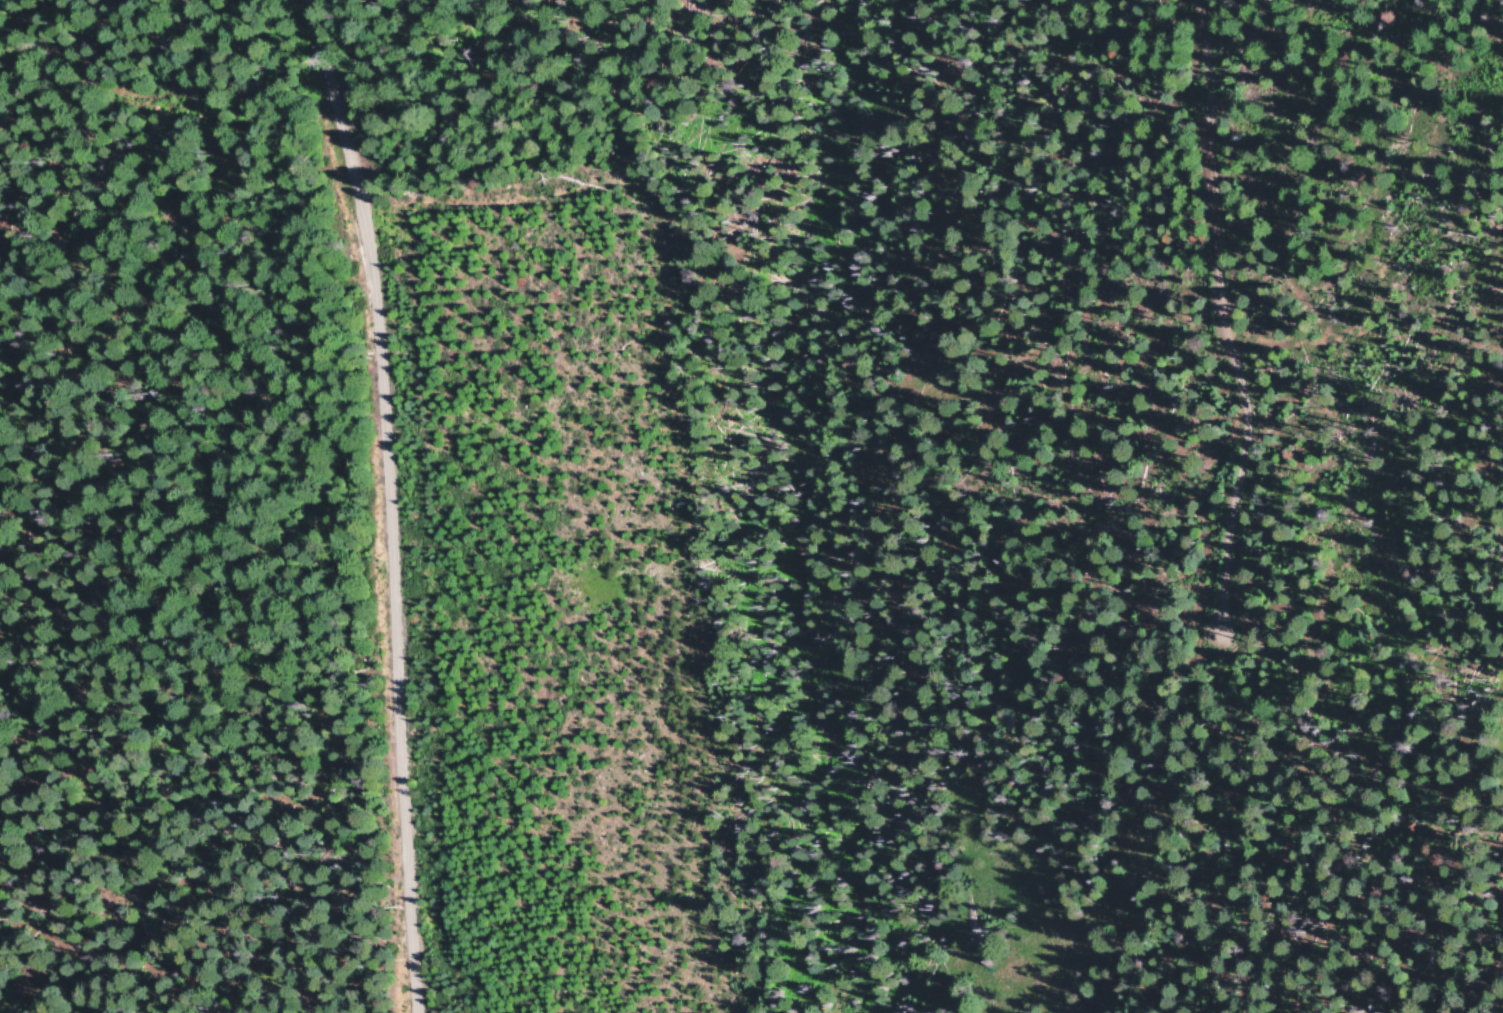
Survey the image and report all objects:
road: (1167, 282)
road: (419, 501)

